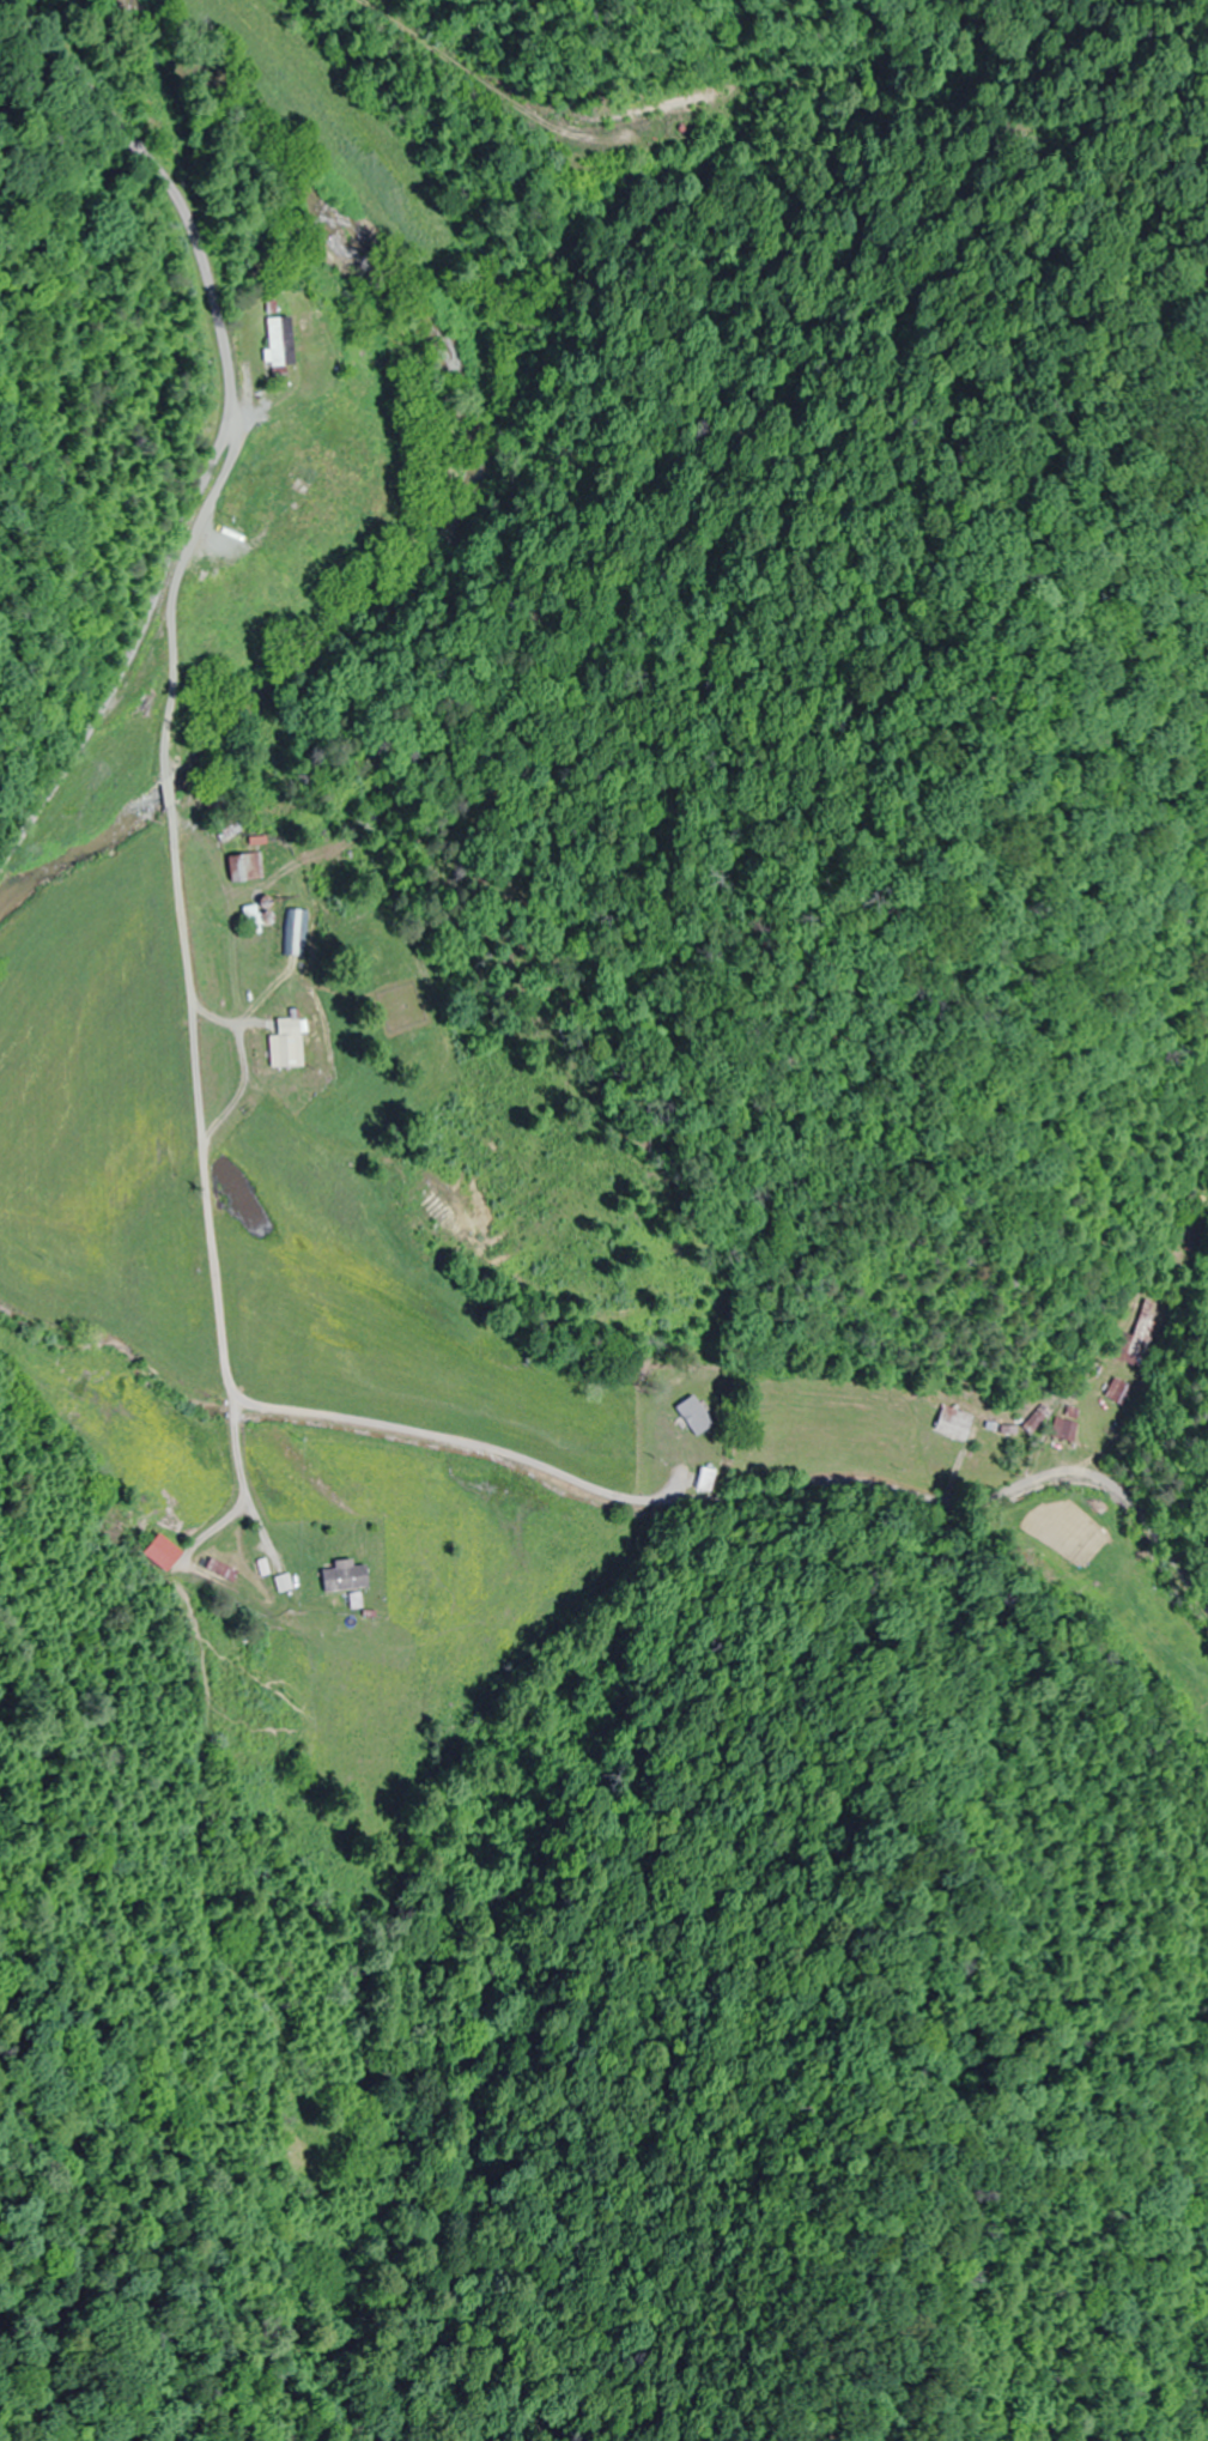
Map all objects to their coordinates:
building: (274, 341)
road: (230, 425)
building: (256, 507)
building: (195, 575)
building: (233, 830)
building: (250, 867)
building: (304, 933)
building: (290, 1044)
building: (273, 1108)
building: (1145, 1338)
building: (1124, 1392)
building: (694, 1416)
building: (1038, 1418)
building: (954, 1423)
building: (1068, 1430)
building: (708, 1479)
road: (386, 1485)
building: (159, 1553)
building: (345, 1580)

